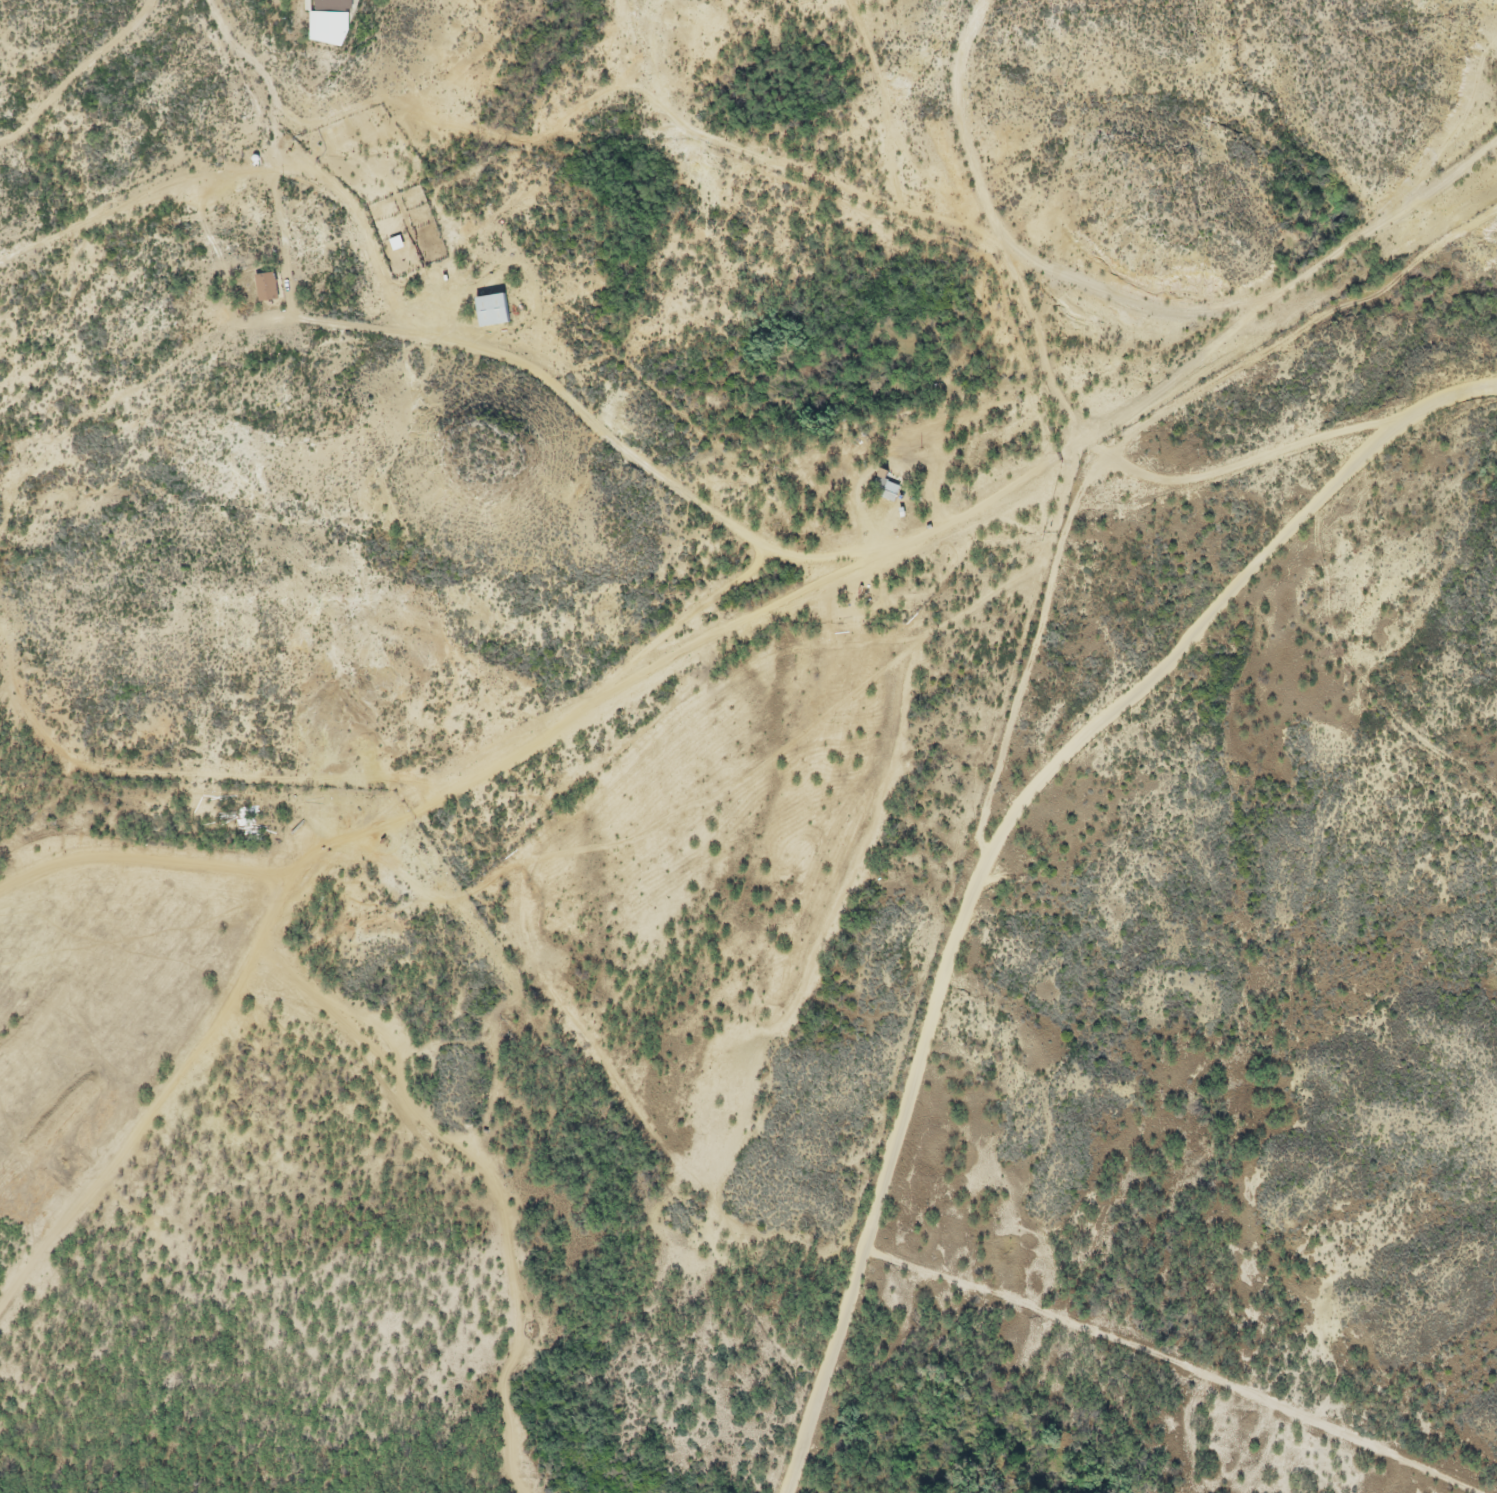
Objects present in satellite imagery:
road: (82, 78)
building: (493, 307)
road: (1052, 386)
building: (888, 487)
road: (698, 636)
road: (538, 1000)

